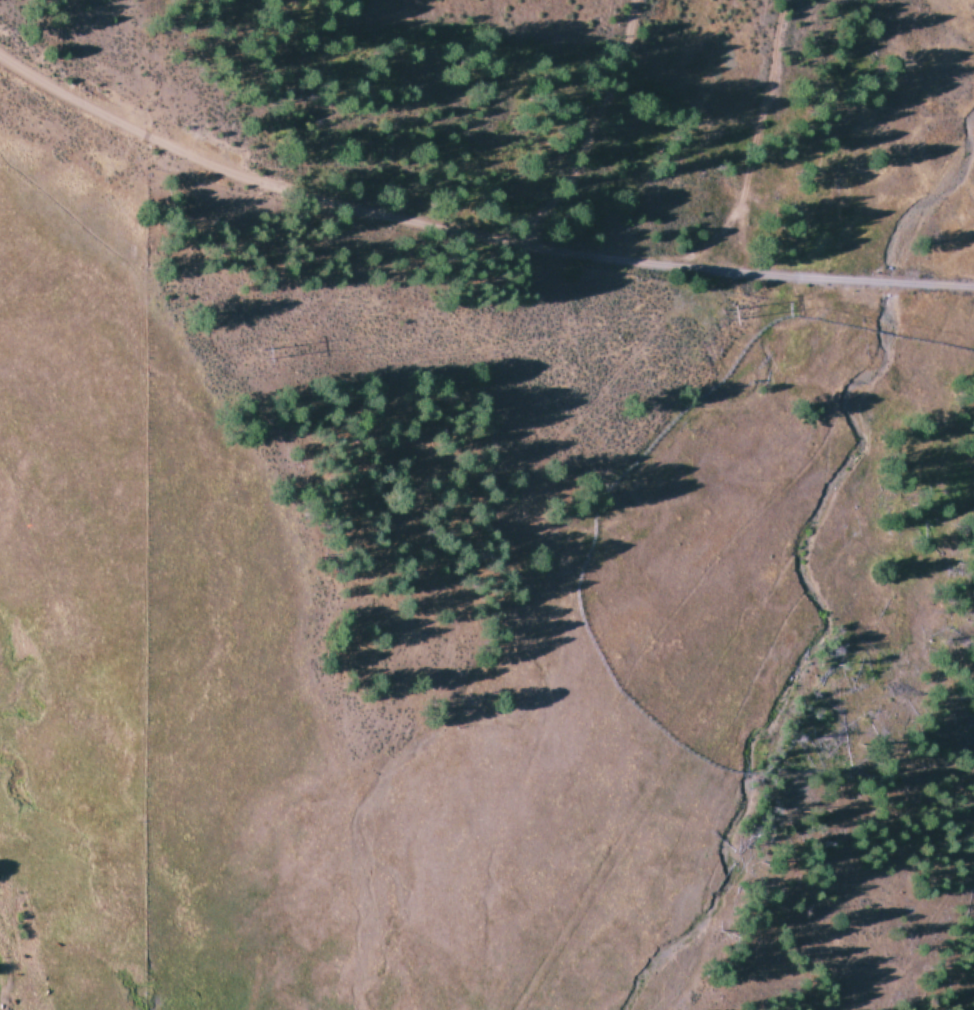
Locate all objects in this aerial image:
road: (78, 73)
road: (771, 142)
road: (559, 236)
power tower: (720, 310)
power tower: (254, 353)

